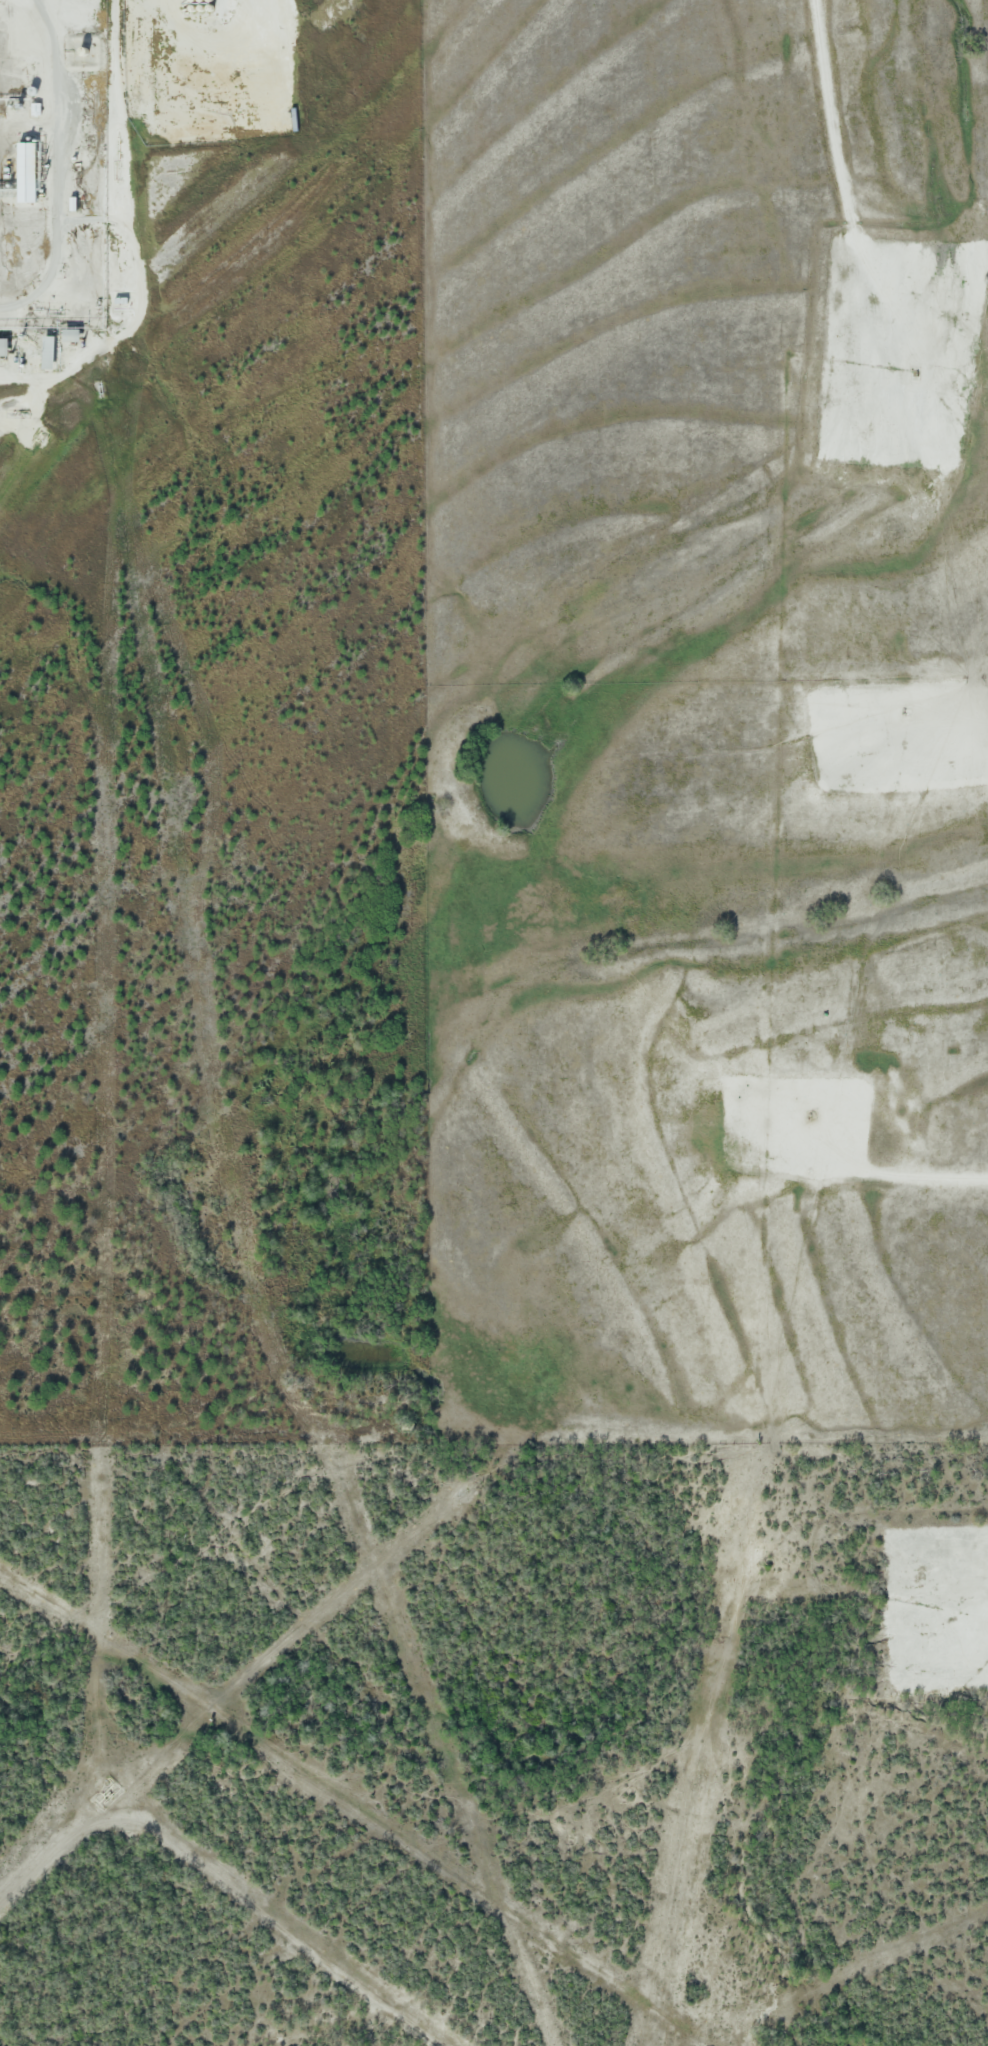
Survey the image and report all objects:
building: (77, 11)
building: (161, 77)
building: (182, 77)
building: (203, 77)
building: (223, 77)
building: (26, 172)
building: (71, 335)
building: (4, 347)
building: (48, 352)

